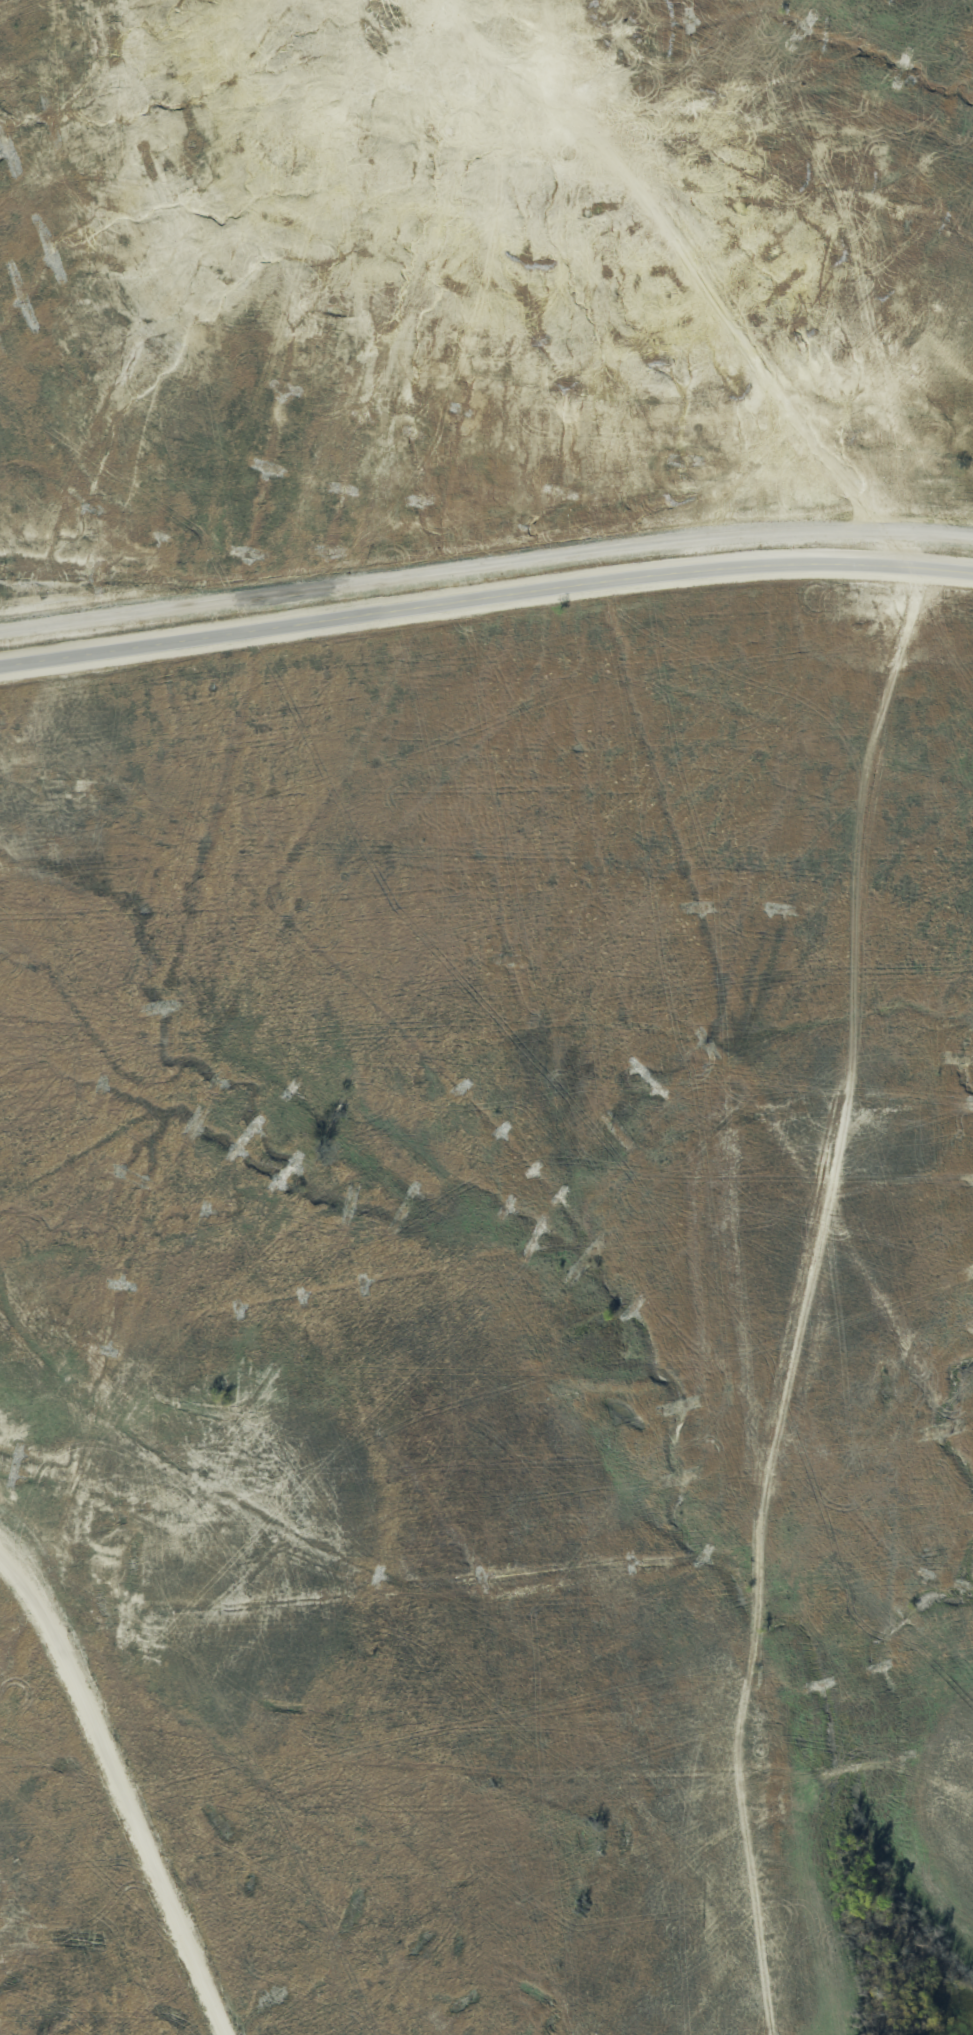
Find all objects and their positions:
road: (485, 563)
road: (485, 599)
road: (905, 617)

